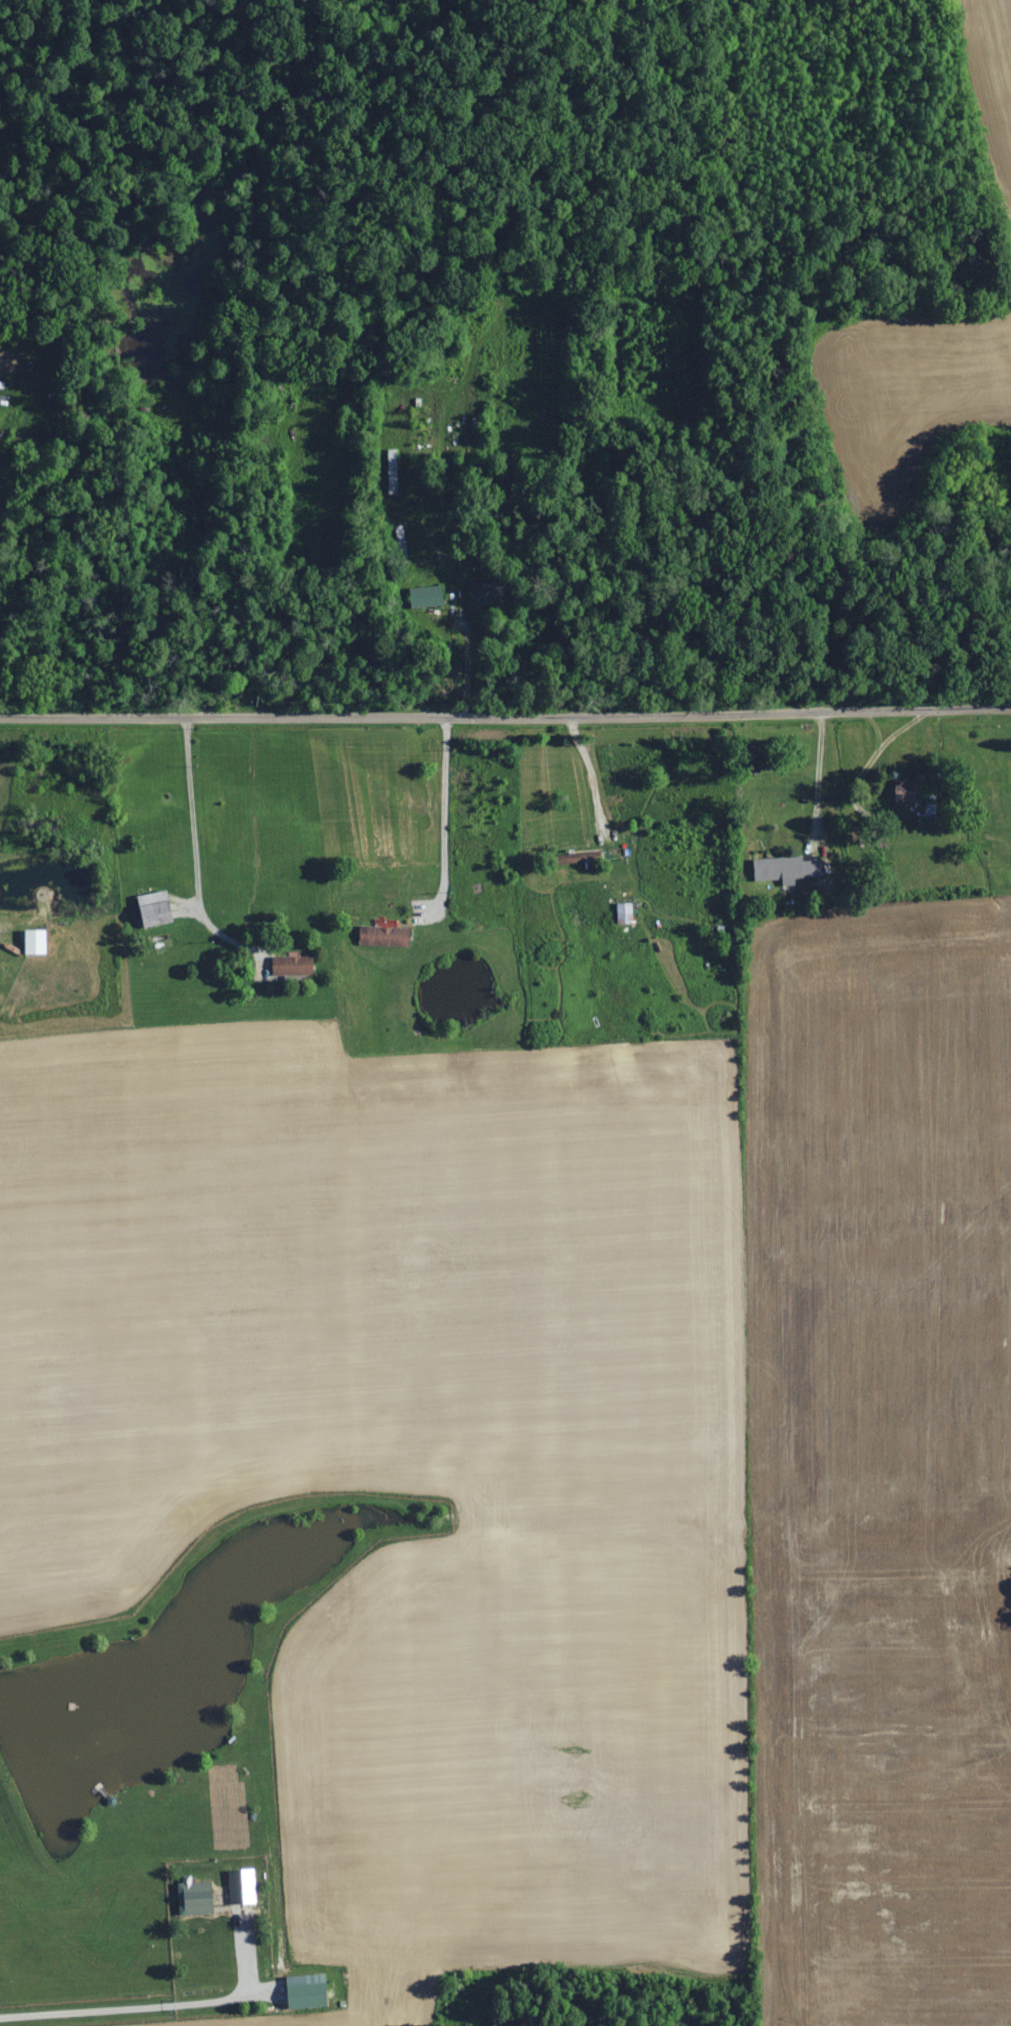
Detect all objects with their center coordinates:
building: (427, 597)
road: (472, 661)
road: (505, 719)
road: (599, 780)
building: (903, 794)
road: (451, 824)
road: (199, 852)
building: (570, 858)
building: (785, 869)
building: (155, 909)
building: (625, 913)
building: (384, 936)
building: (36, 942)
building: (293, 965)
building: (243, 1894)
building: (195, 1897)
building: (307, 1991)
road: (123, 2006)

